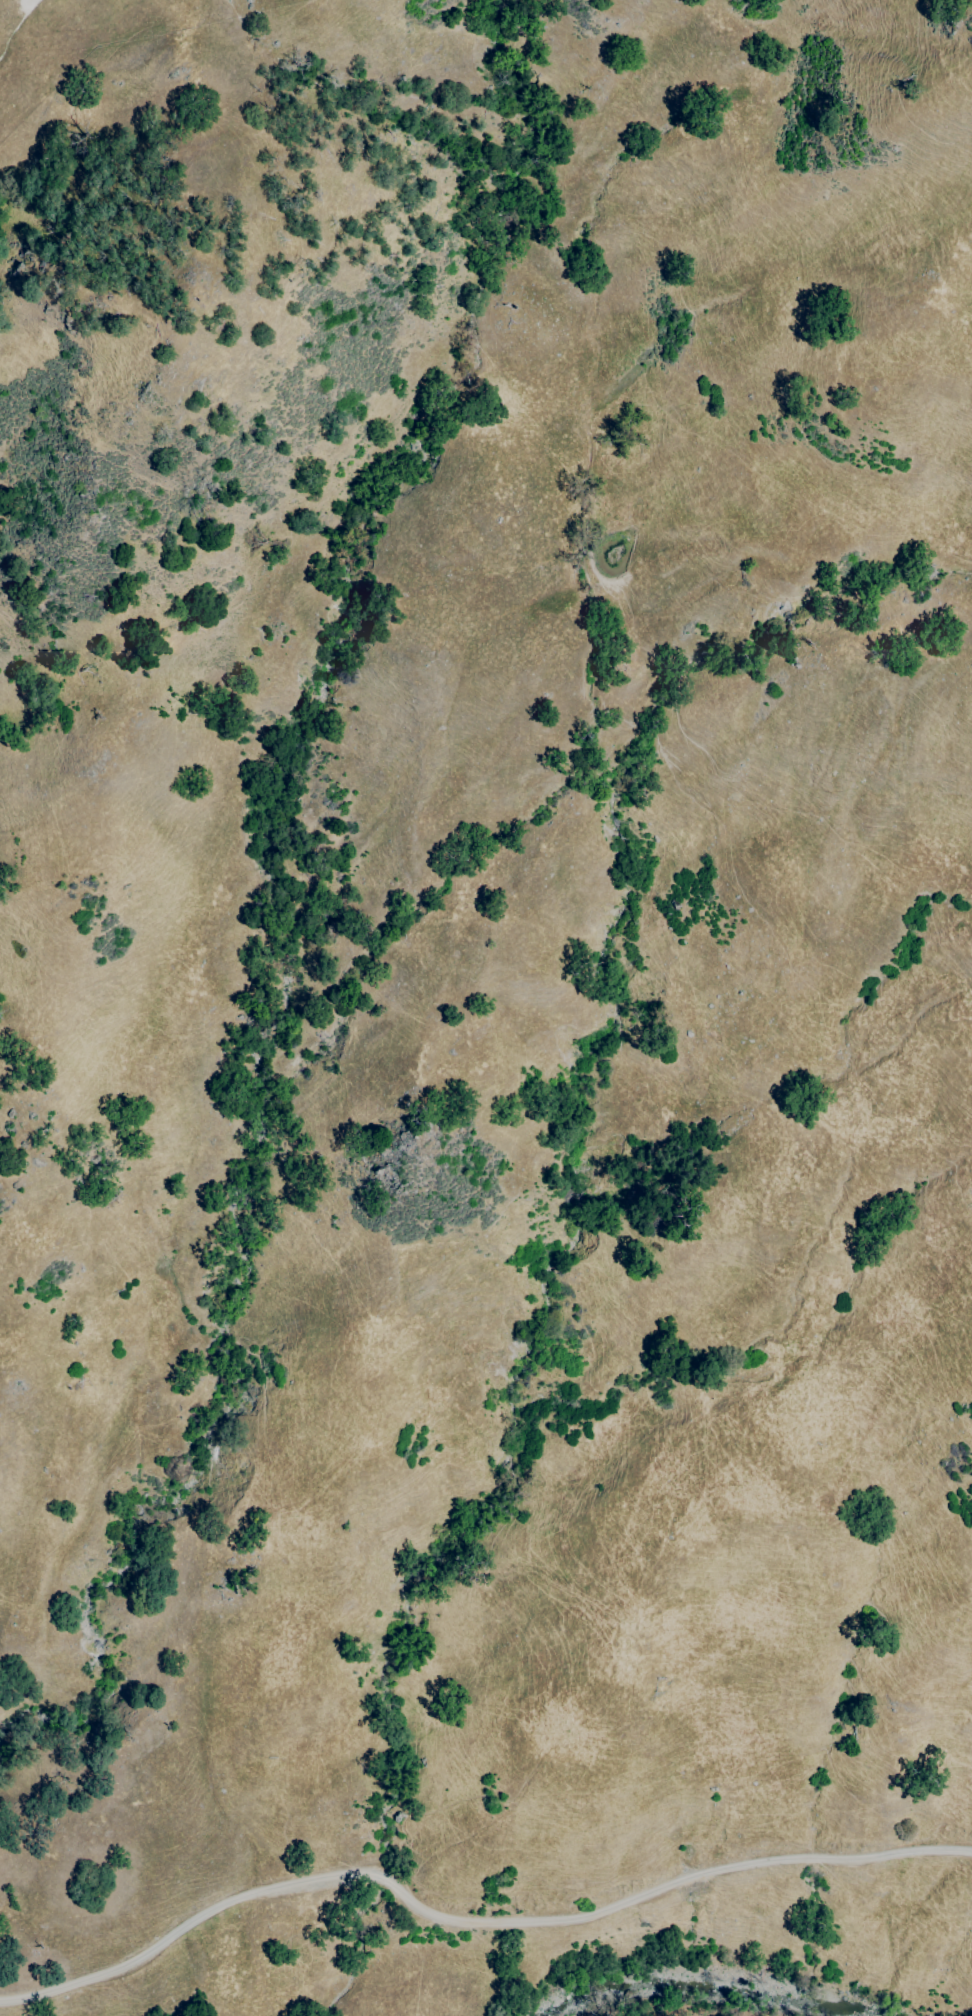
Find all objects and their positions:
road: (470, 1919)
river: (705, 2007)

